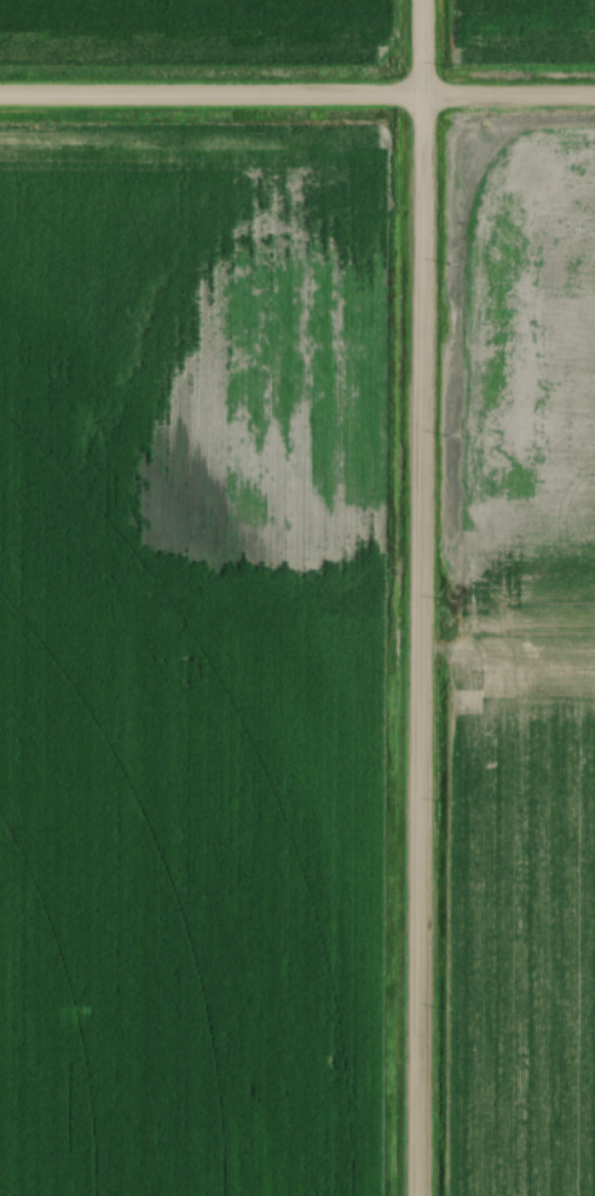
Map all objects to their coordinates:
road: (414, 50)
road: (296, 98)
road: (414, 648)

